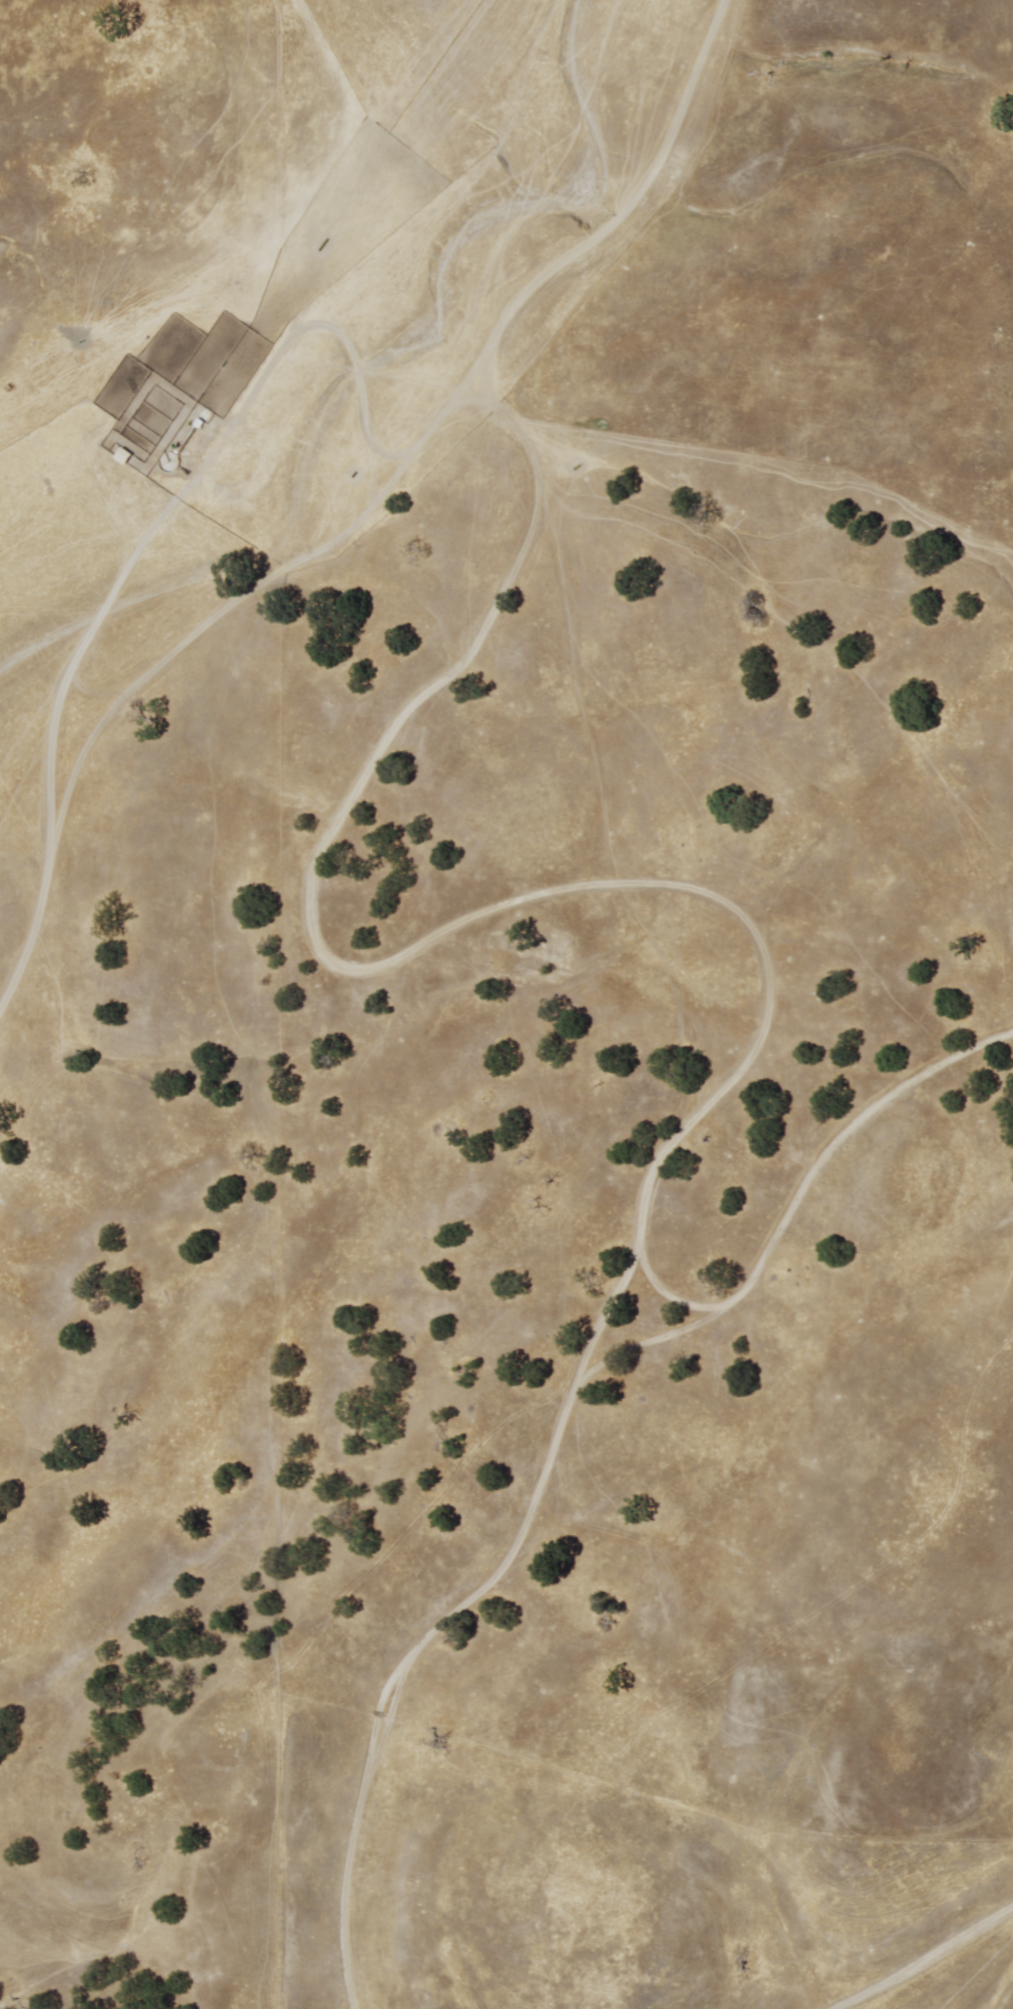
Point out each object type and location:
building: (121, 456)
road: (362, 511)
road: (446, 942)
road: (556, 1433)
road: (919, 1959)

